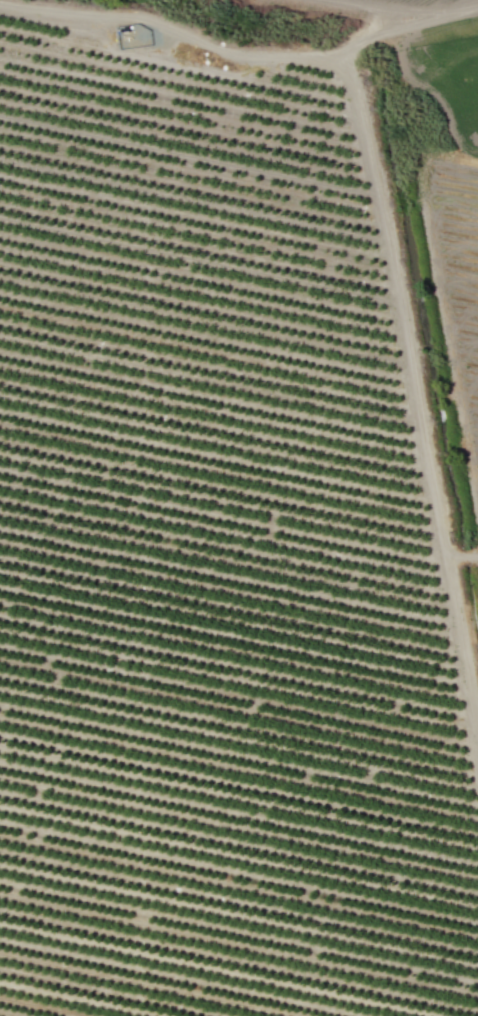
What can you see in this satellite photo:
road: (241, 50)

